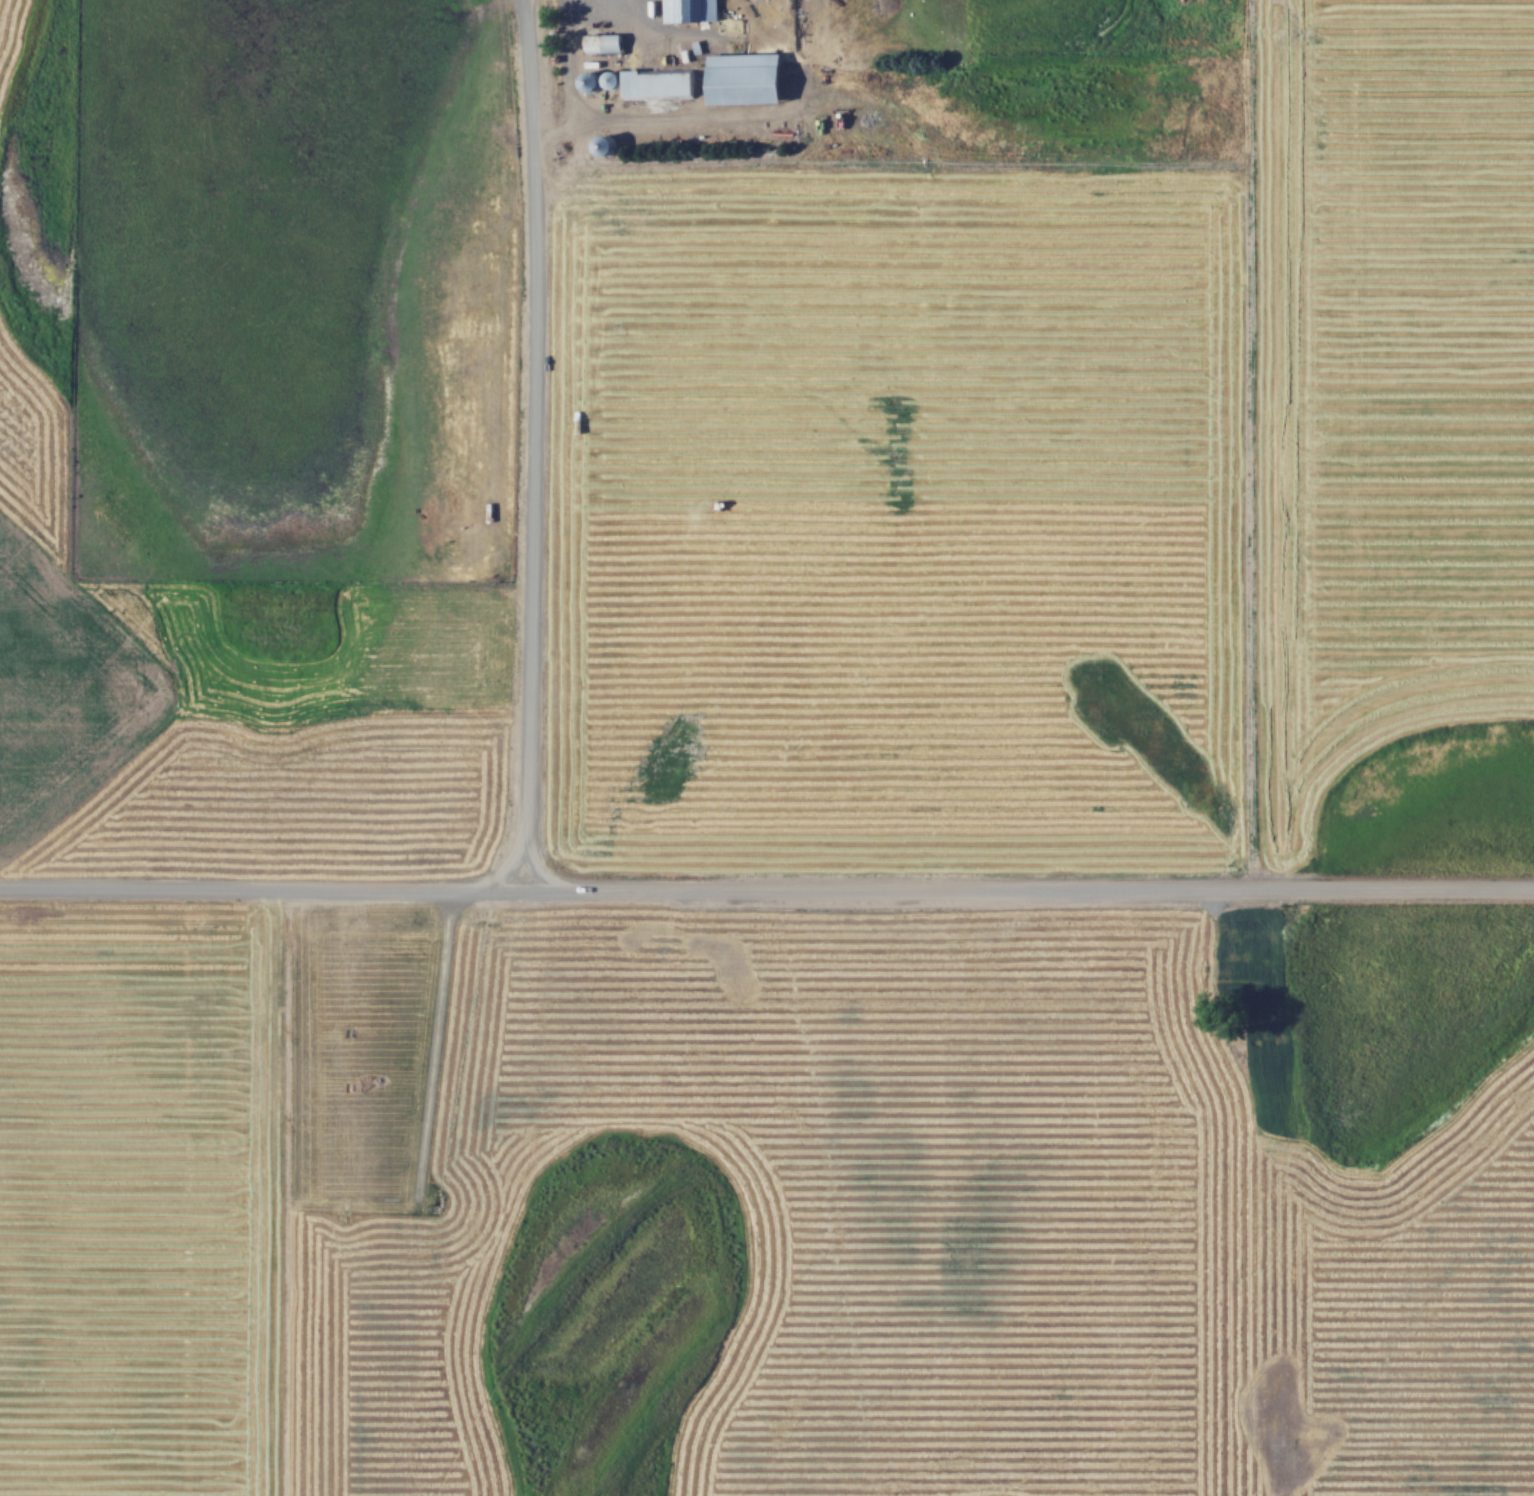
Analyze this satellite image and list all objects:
building: (692, 10)
building: (606, 42)
building: (592, 78)
building: (613, 78)
building: (749, 78)
building: (660, 83)
building: (607, 144)
road: (527, 442)
road: (766, 884)

